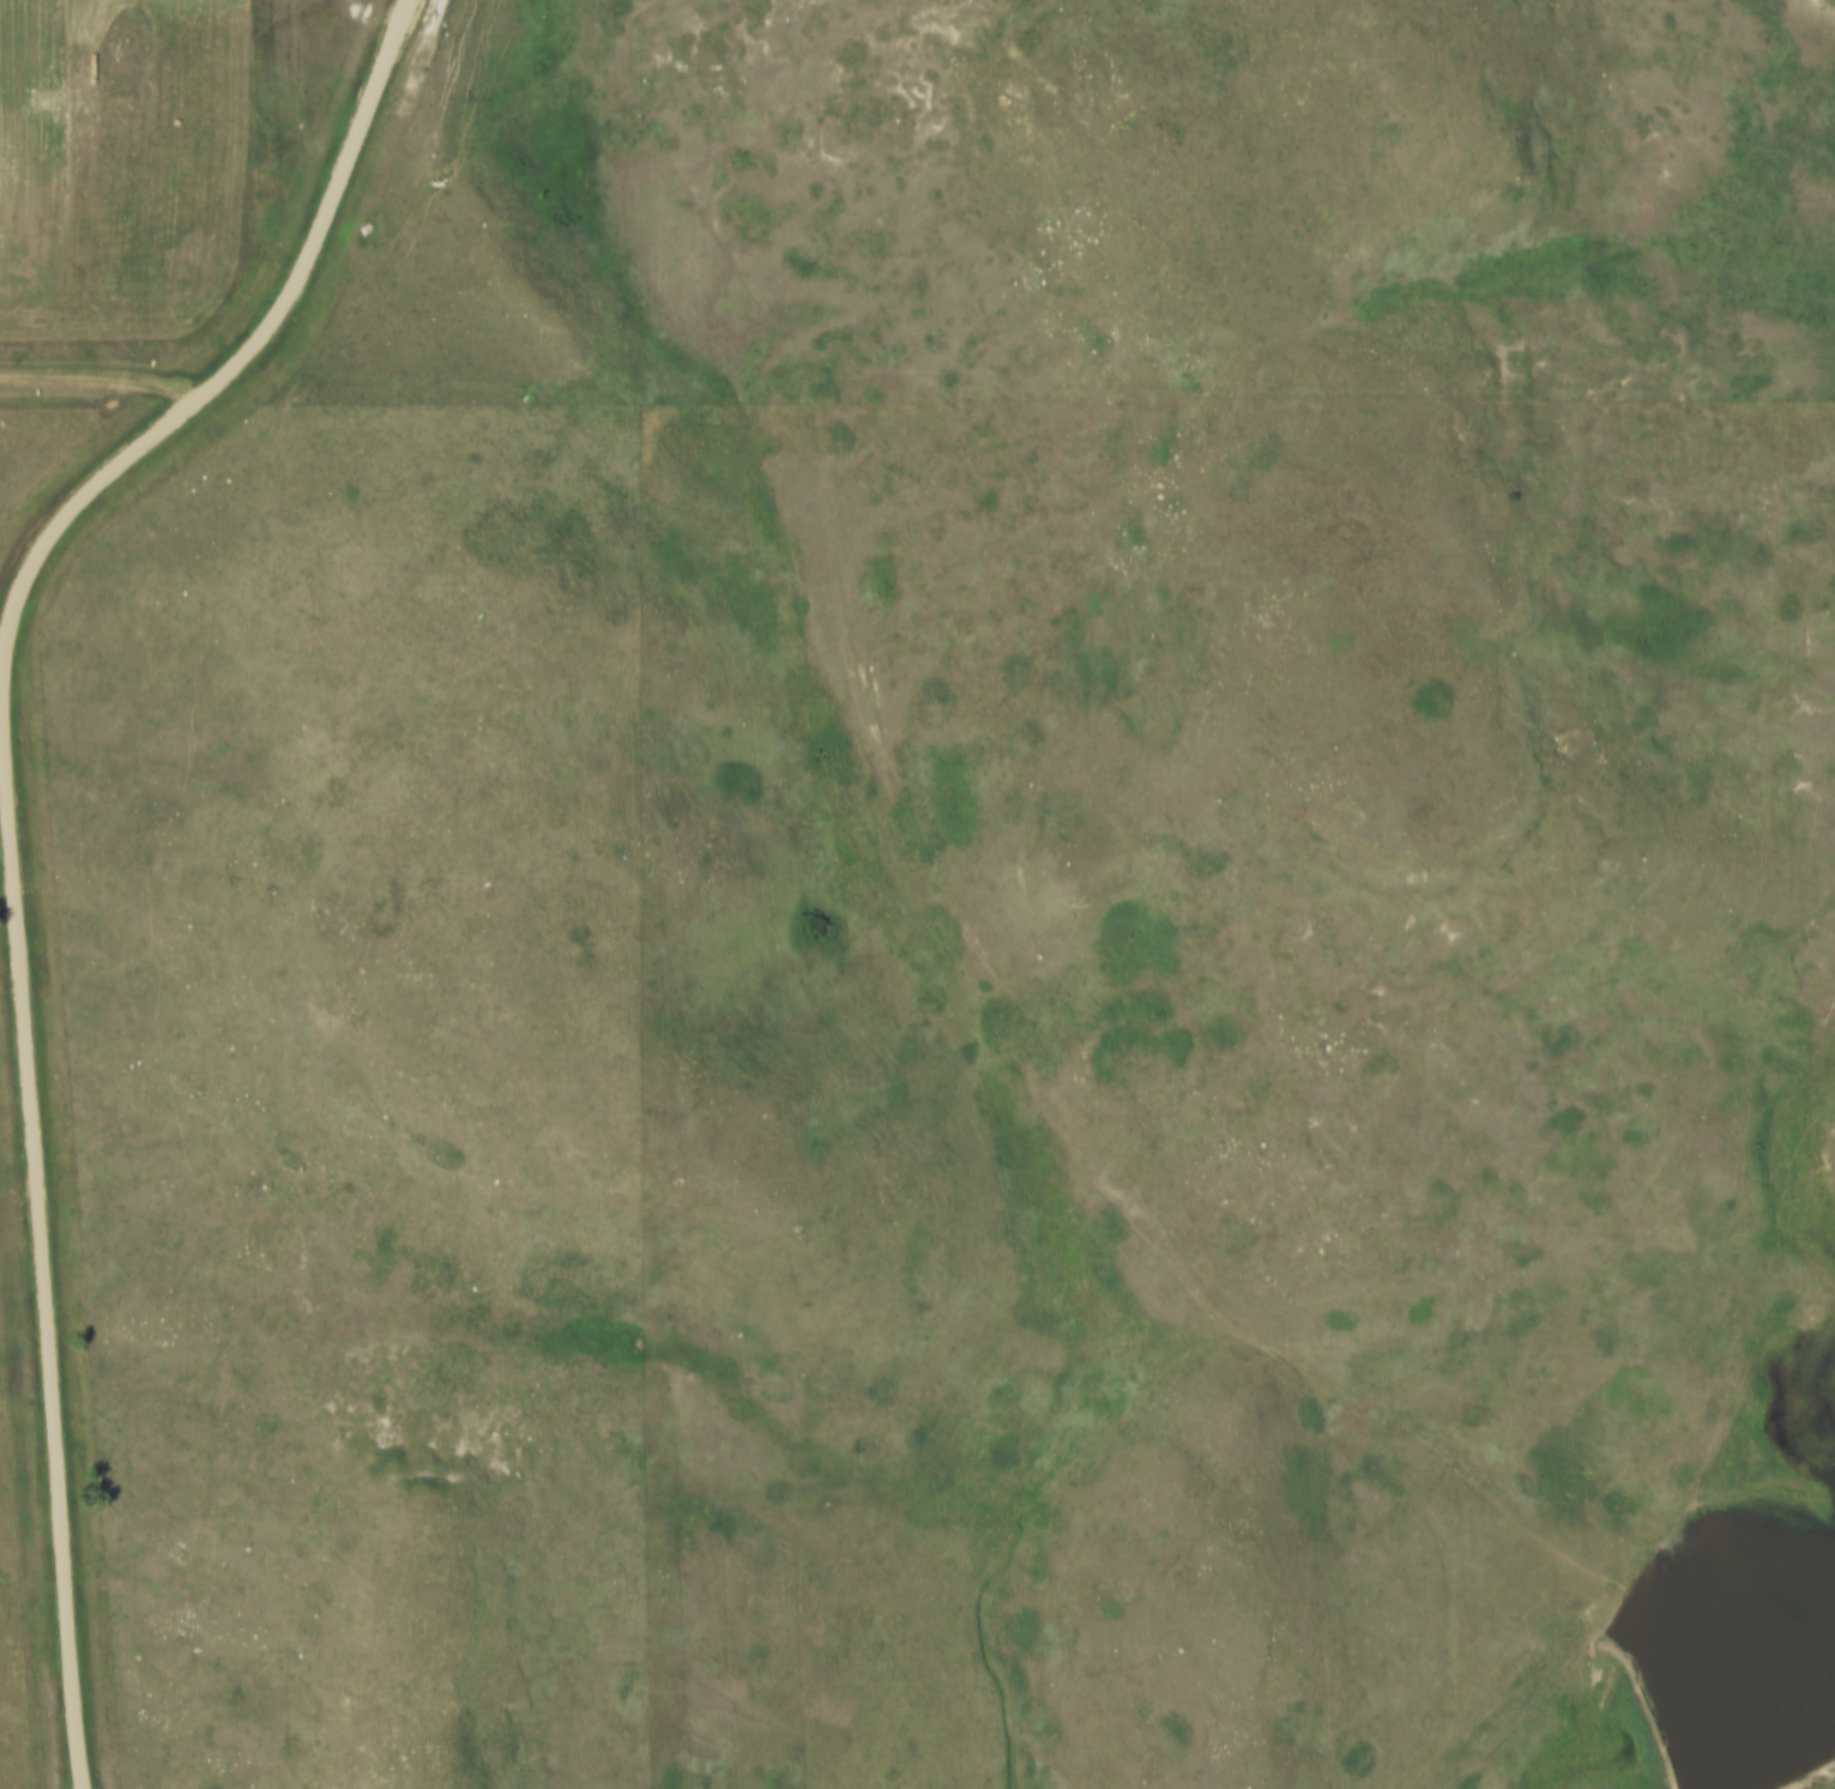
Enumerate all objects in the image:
road: (101, 383)
road: (13, 827)

